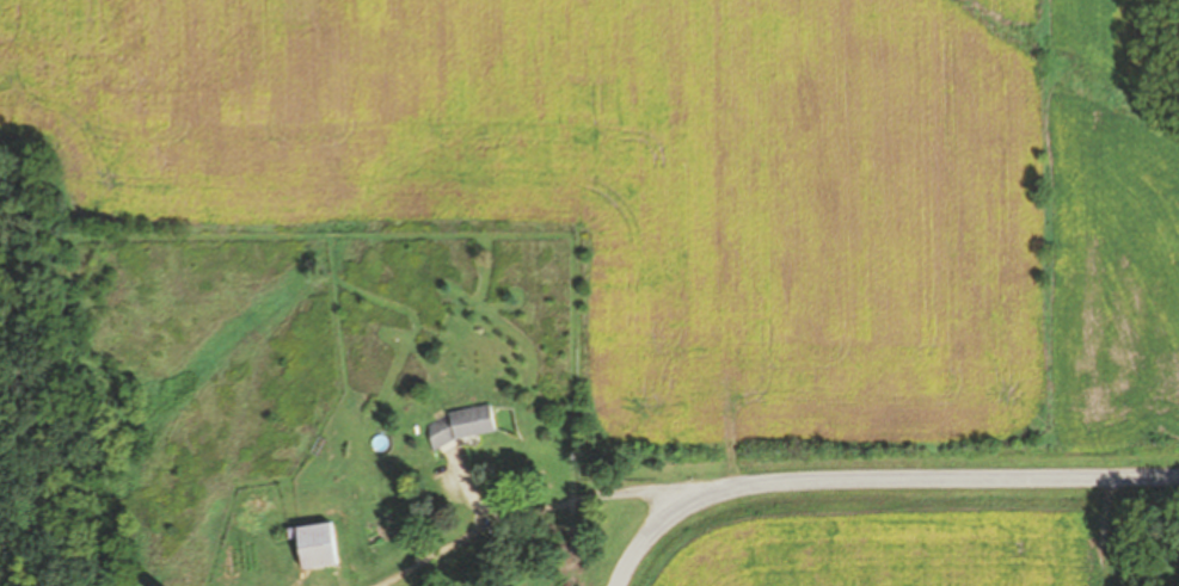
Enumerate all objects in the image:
building: (460, 425)
road: (876, 480)
road: (523, 513)
building: (315, 544)

